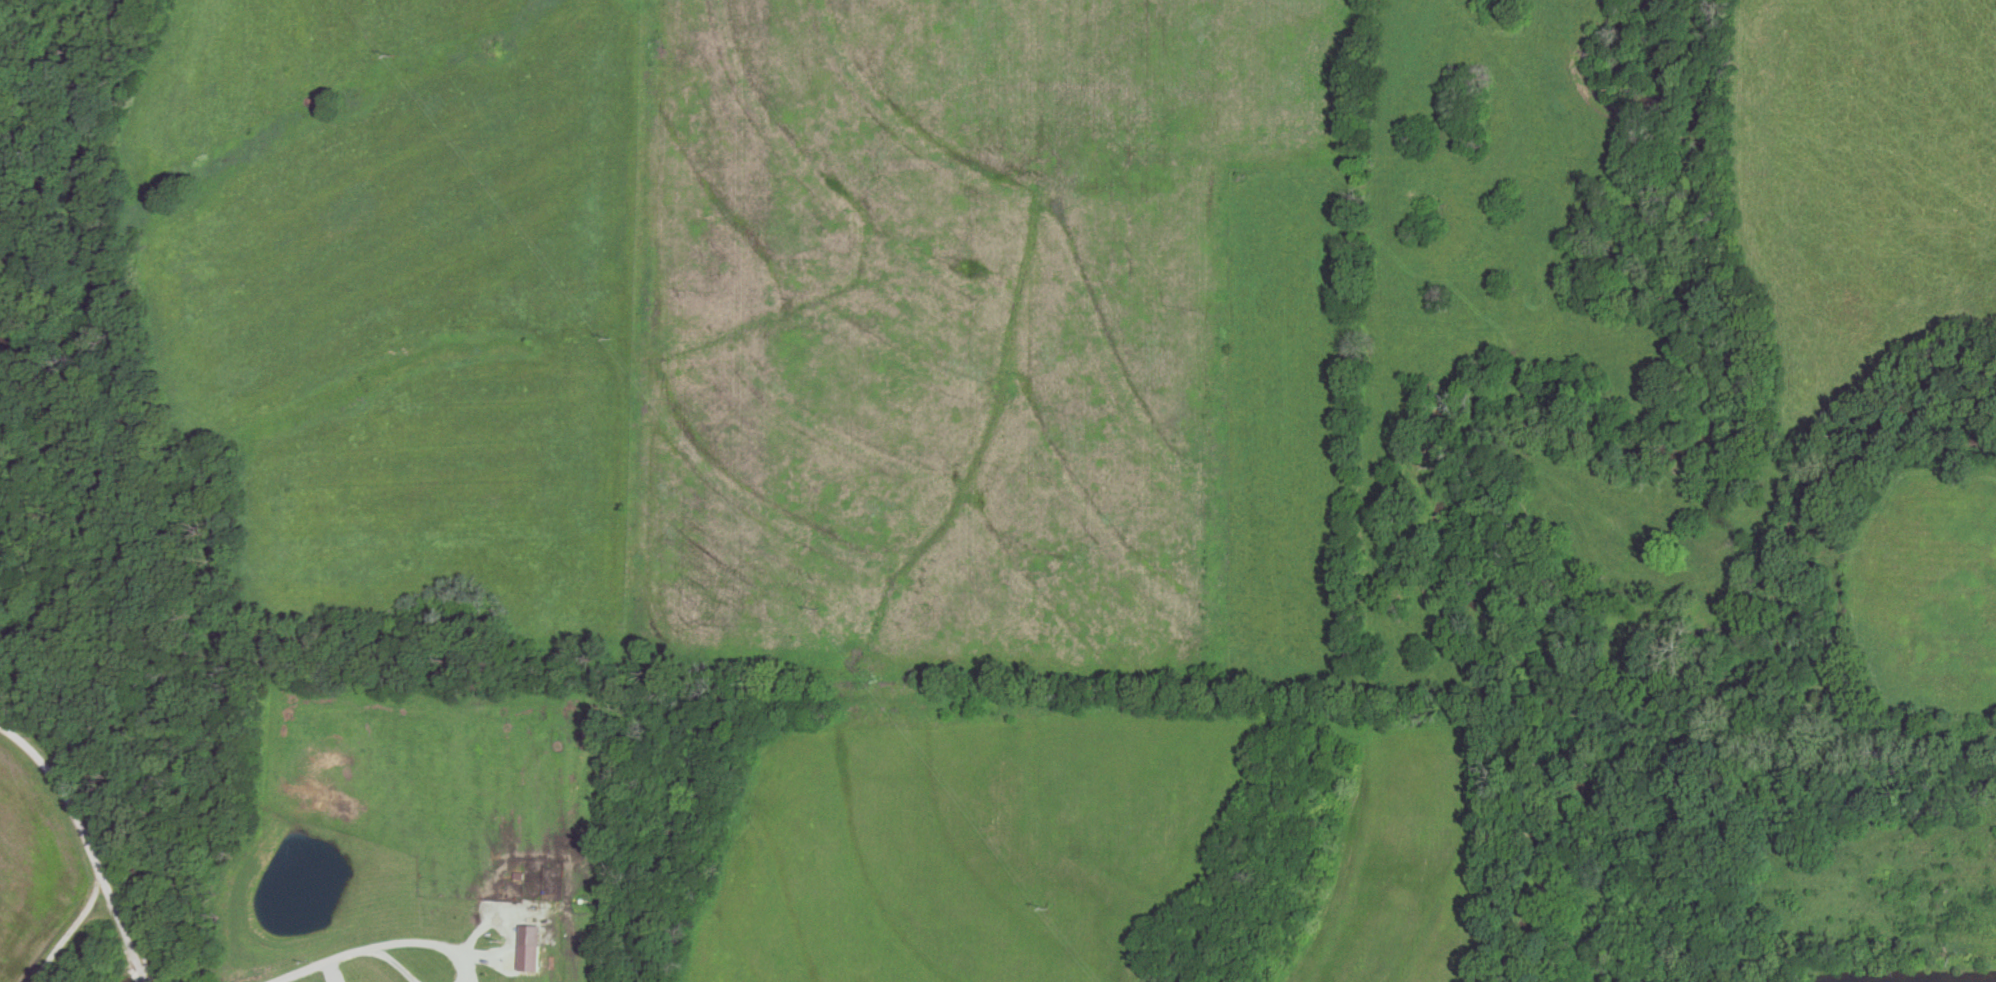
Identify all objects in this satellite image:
crop: (942, 318)
road: (82, 847)
road: (422, 951)
building: (533, 956)
road: (386, 965)
road: (332, 969)

